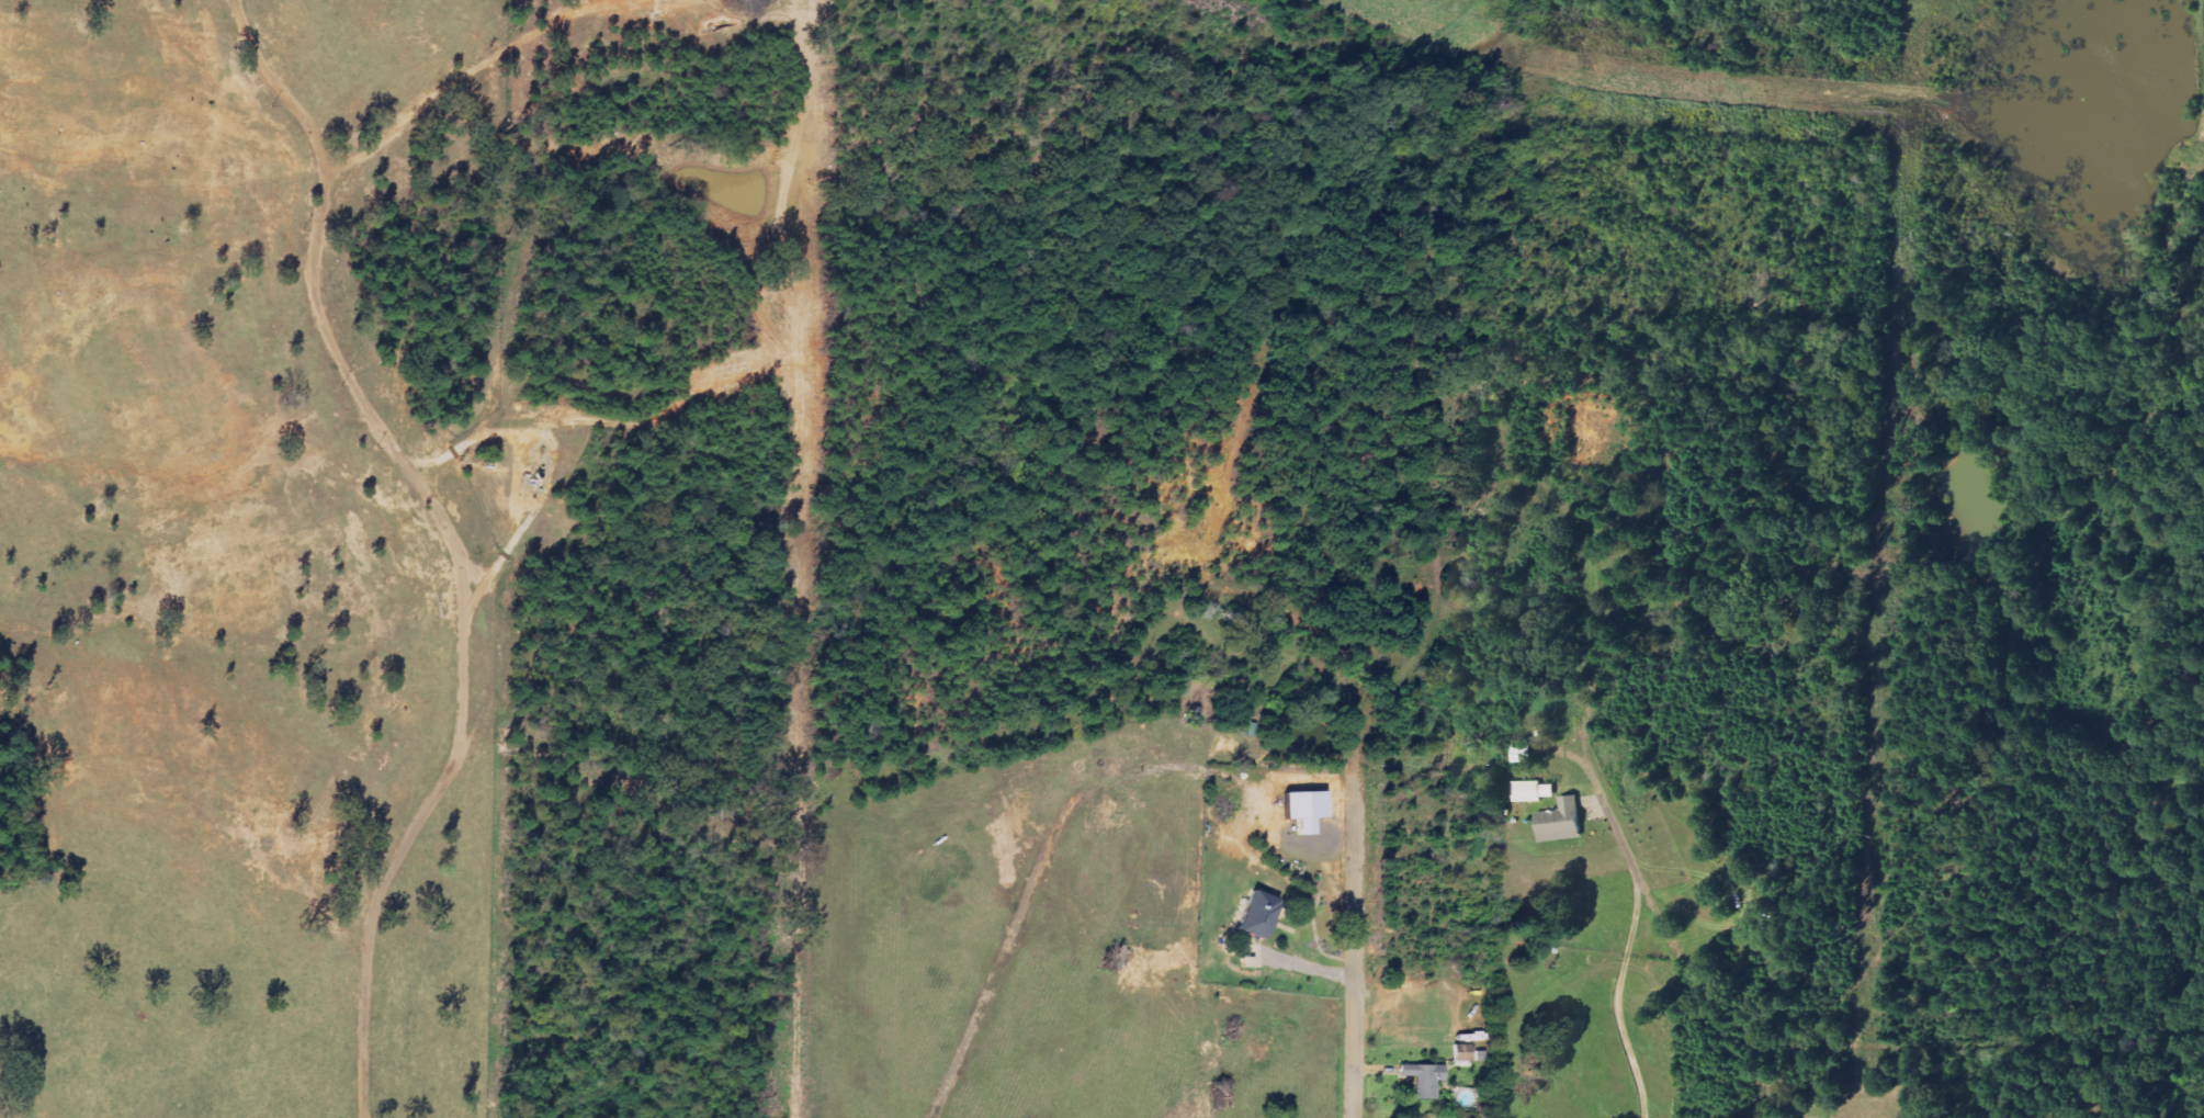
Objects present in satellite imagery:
road: (454, 547)
building: (1522, 754)
building: (1534, 792)
building: (1309, 811)
building: (1563, 823)
building: (1261, 917)
road: (1353, 939)
building: (1463, 1054)
building: (1426, 1081)

